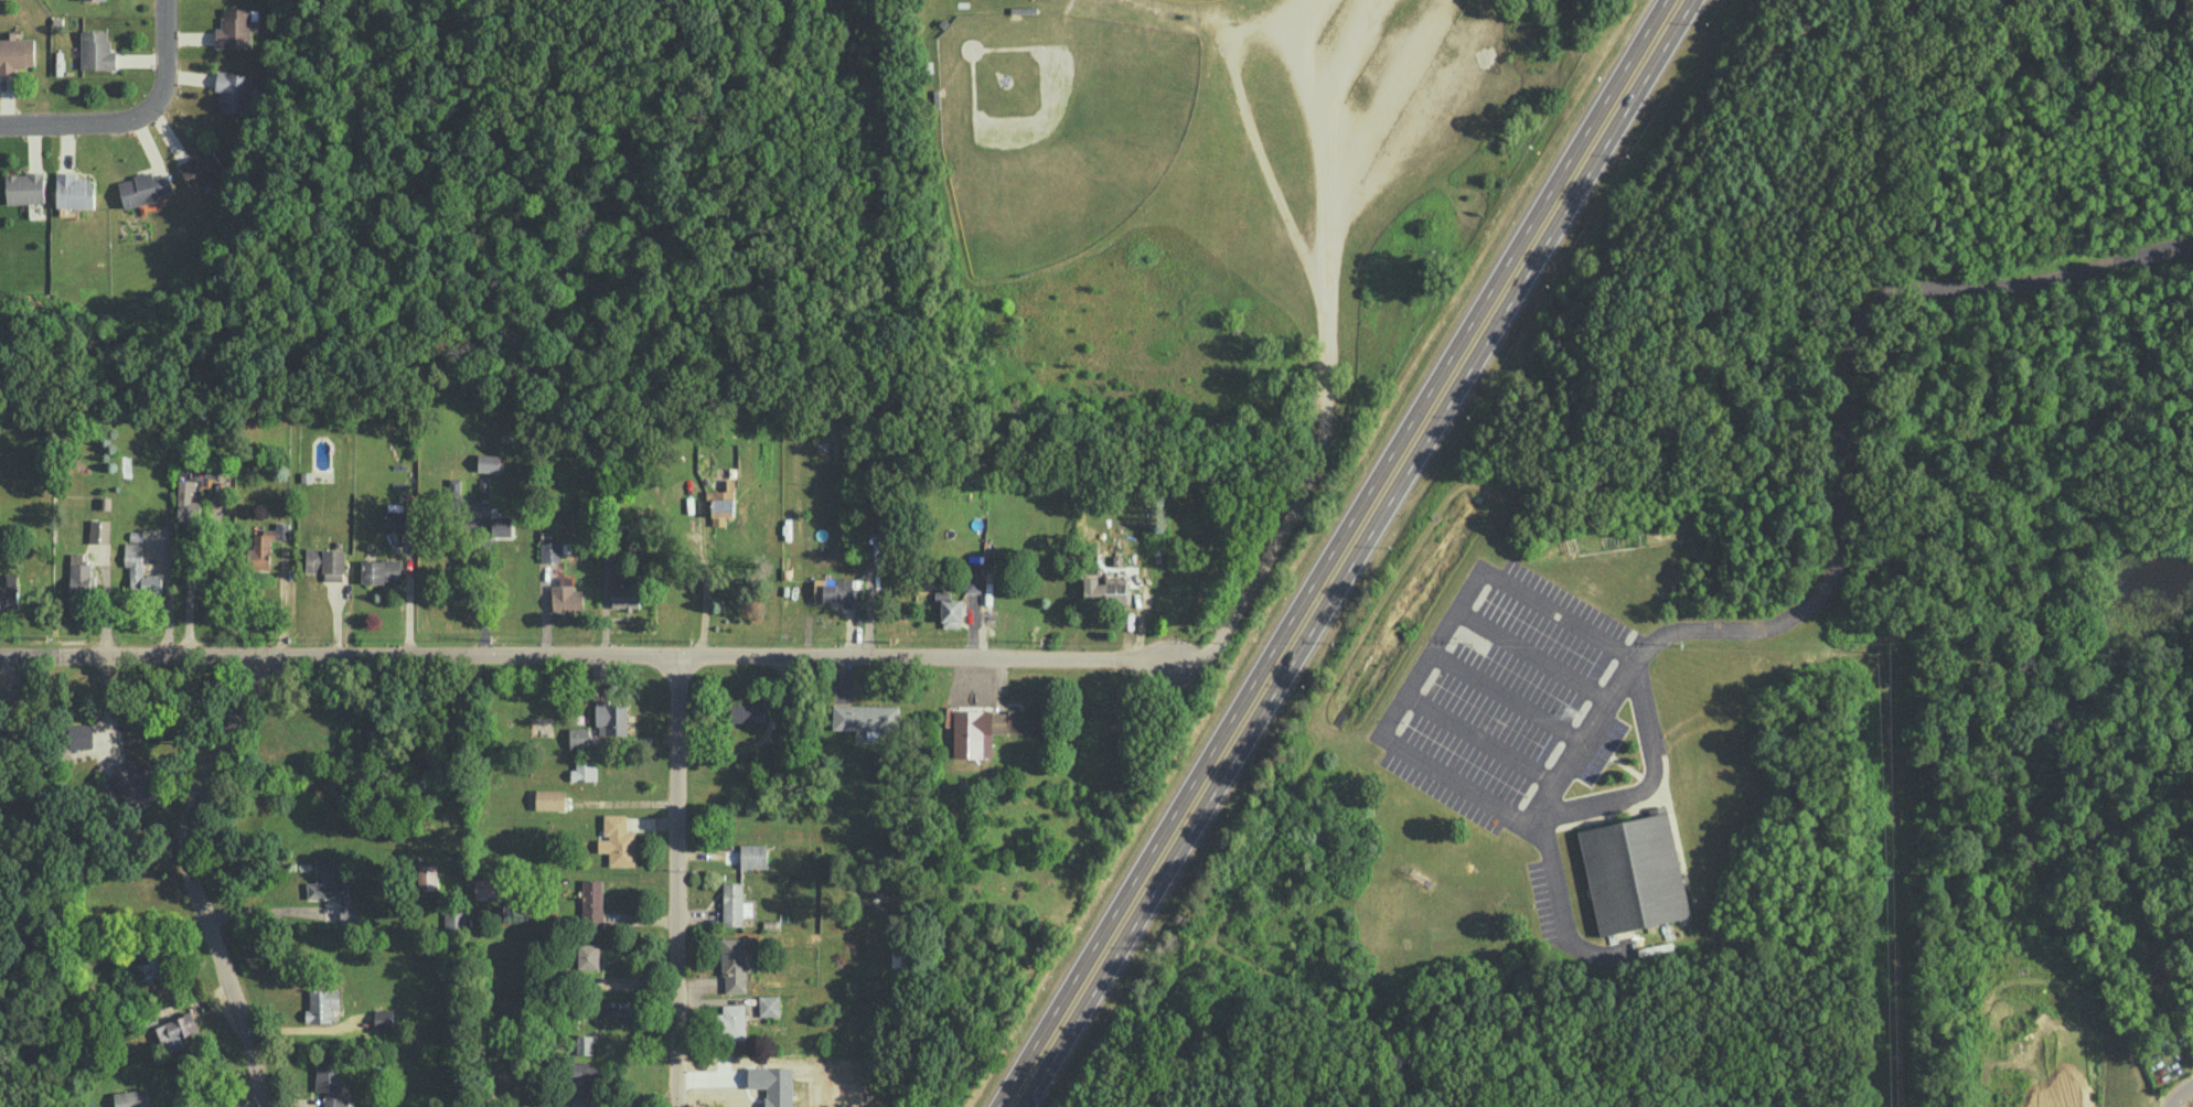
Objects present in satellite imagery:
park: (1188, 1)
building: (235, 29)
building: (97, 51)
building: (15, 54)
road: (165, 57)
road: (1309, 86)
building: (234, 90)
road: (77, 126)
road: (1253, 129)
park: (1058, 132)
building: (202, 168)
building: (25, 187)
building: (143, 189)
building: (74, 191)
road: (1327, 344)
building: (489, 462)
building: (454, 486)
building: (721, 503)
building: (188, 506)
building: (501, 525)
building: (99, 530)
building: (265, 545)
building: (550, 550)
road: (1344, 553)
building: (976, 558)
building: (327, 562)
building: (381, 570)
building: (140, 571)
road: (192, 574)
building: (79, 576)
road: (478, 578)
building: (973, 580)
road: (1831, 583)
building: (1105, 588)
building: (9, 590)
road: (705, 590)
building: (836, 590)
building: (566, 595)
building: (625, 595)
building: (951, 612)
road: (586, 655)
road: (1533, 655)
road: (1431, 656)
parking lot: (1498, 692)
road: (1507, 698)
building: (747, 711)
building: (865, 717)
building: (611, 719)
building: (1017, 721)
building: (972, 732)
building: (79, 735)
building: (579, 737)
road: (1480, 742)
building: (585, 770)
road: (1652, 778)
building: (133, 782)
building: (549, 798)
building: (619, 840)
building: (752, 855)
building: (427, 877)
road: (191, 878)
building: (1635, 878)
road: (676, 881)
building: (486, 886)
building: (331, 889)
building: (592, 902)
building: (735, 904)
road: (264, 912)
building: (454, 920)
building: (588, 955)
building: (734, 965)
building: (153, 967)
building: (322, 1003)
building: (769, 1004)
building: (383, 1018)
building: (730, 1021)
road: (307, 1028)
building: (175, 1031)
building: (585, 1044)
building: (584, 1074)
building: (330, 1083)
building: (131, 1098)
road: (2183, 1099)
building: (579, 1100)
road: (236, 1105)

